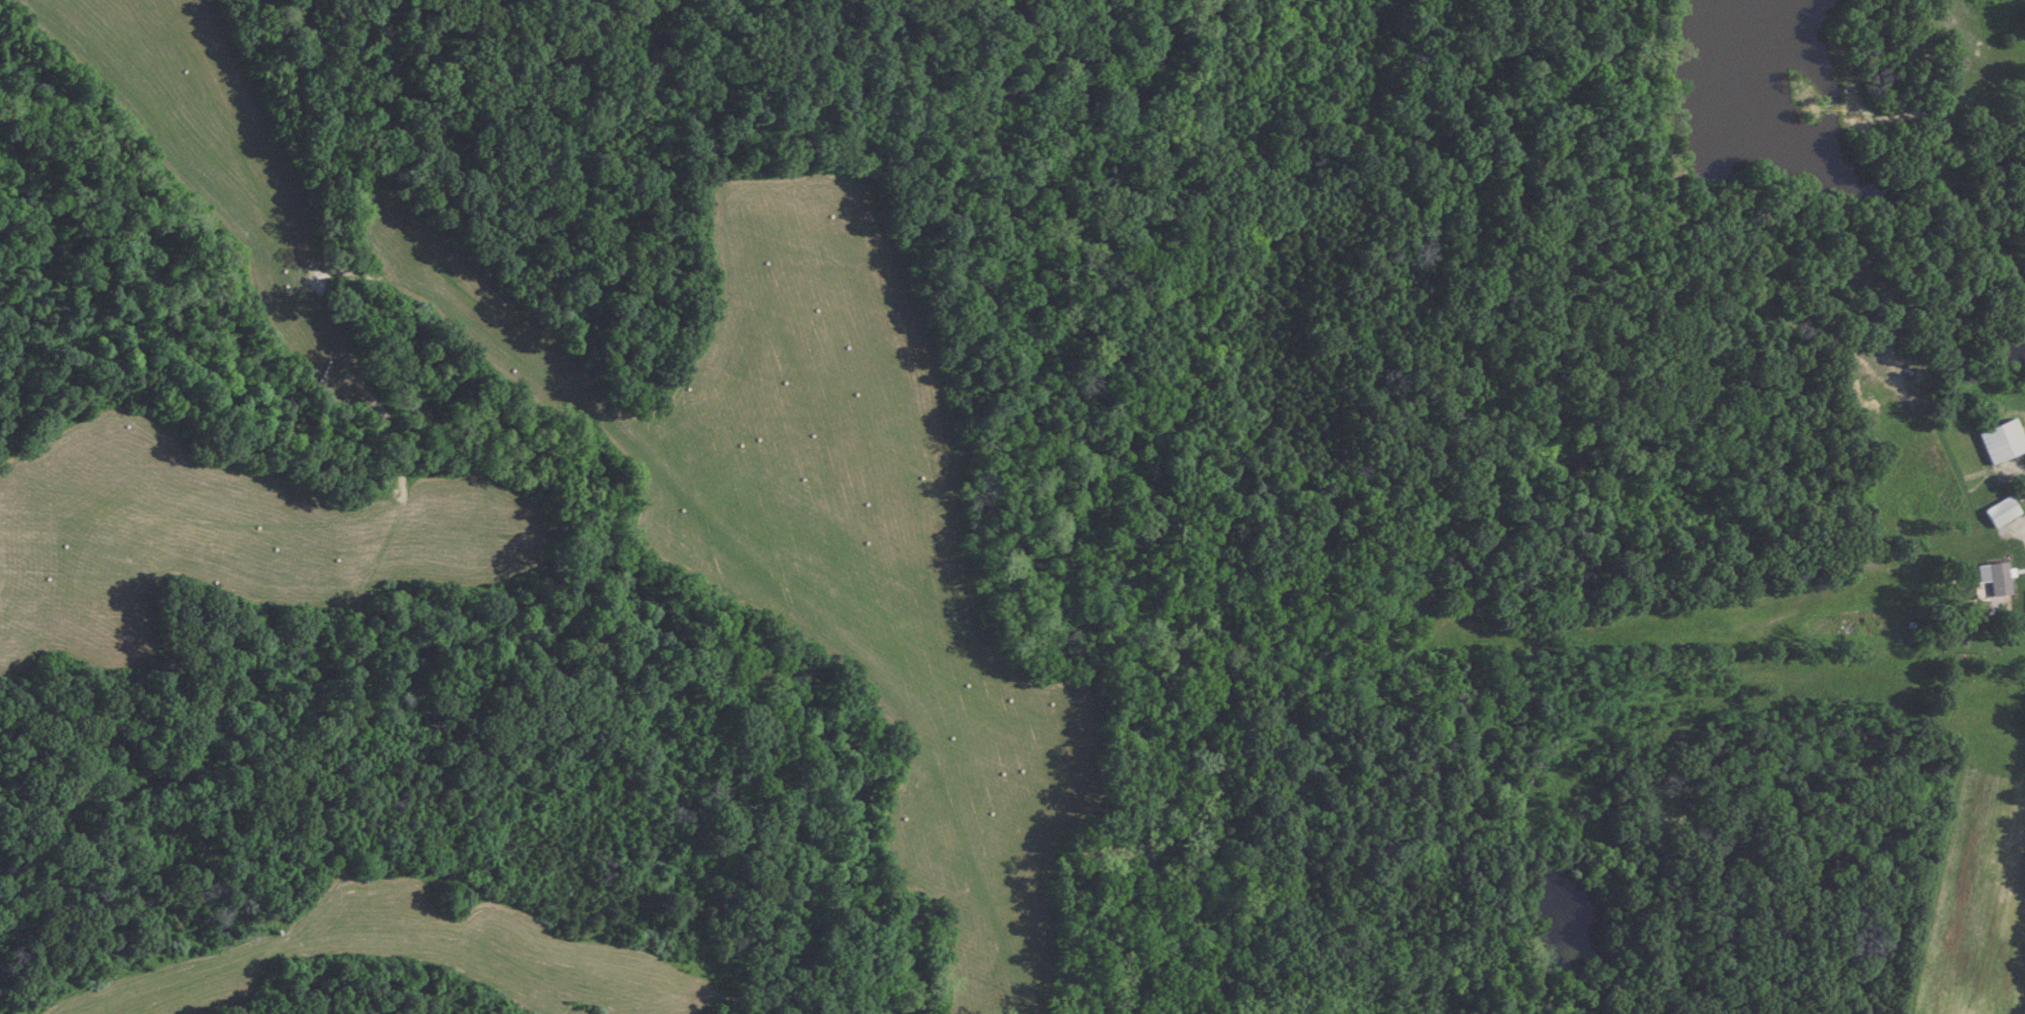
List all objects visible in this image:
building: (2002, 443)
building: (2001, 512)
building: (2002, 577)
building: (1977, 578)

